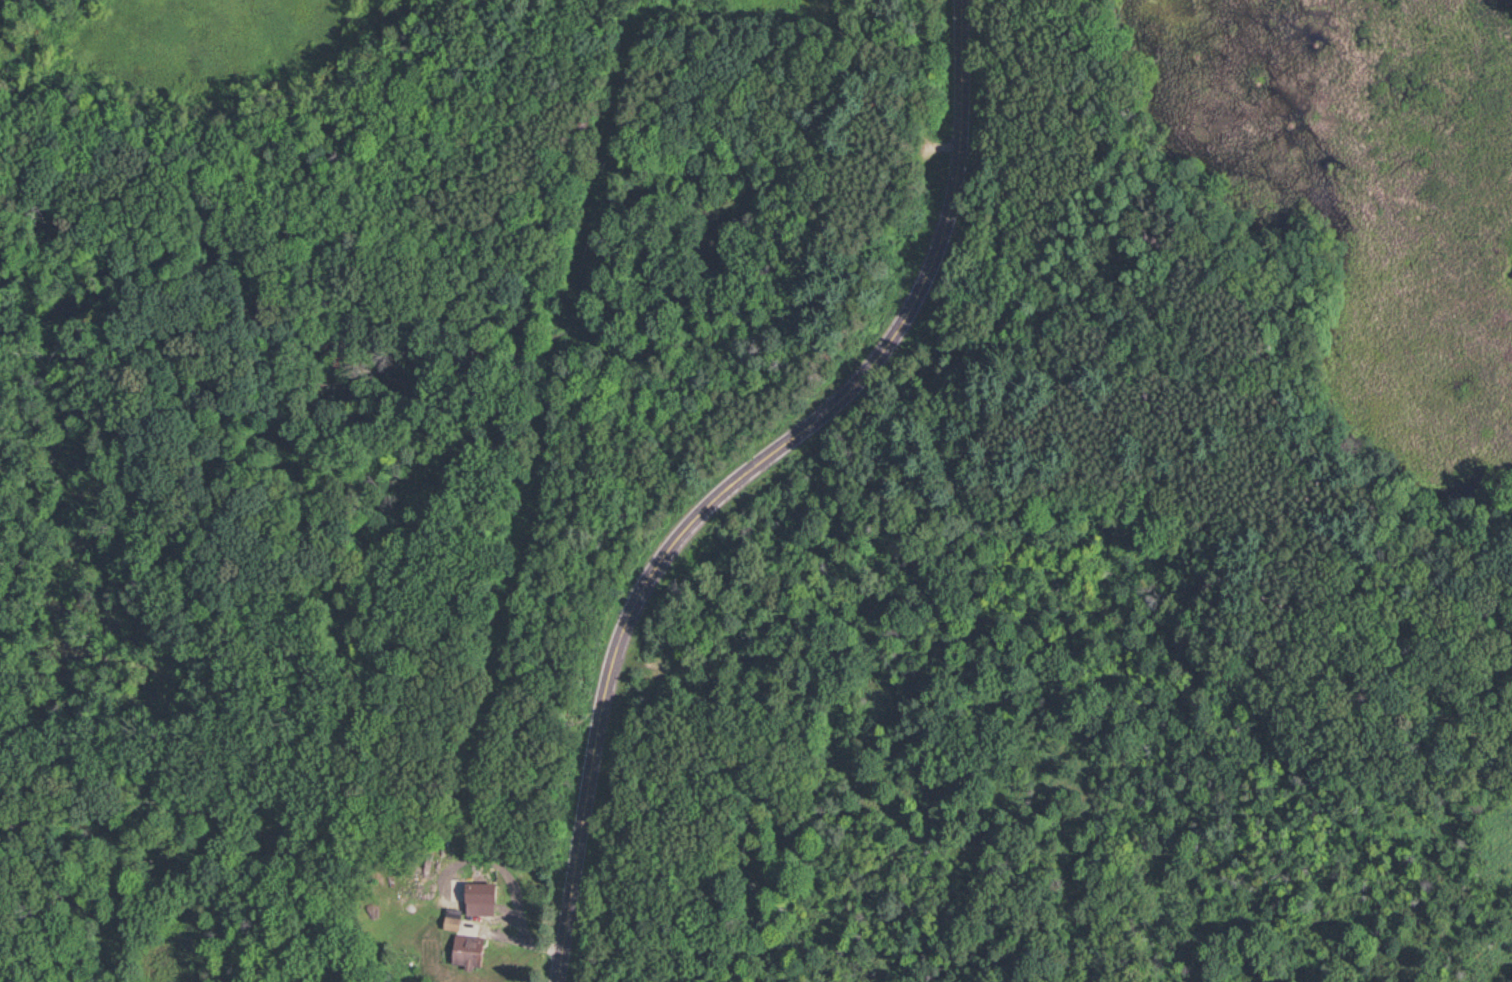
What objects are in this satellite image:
road: (943, 148)
parking lot: (922, 149)
road: (754, 481)
building: (453, 922)
building: (468, 955)

